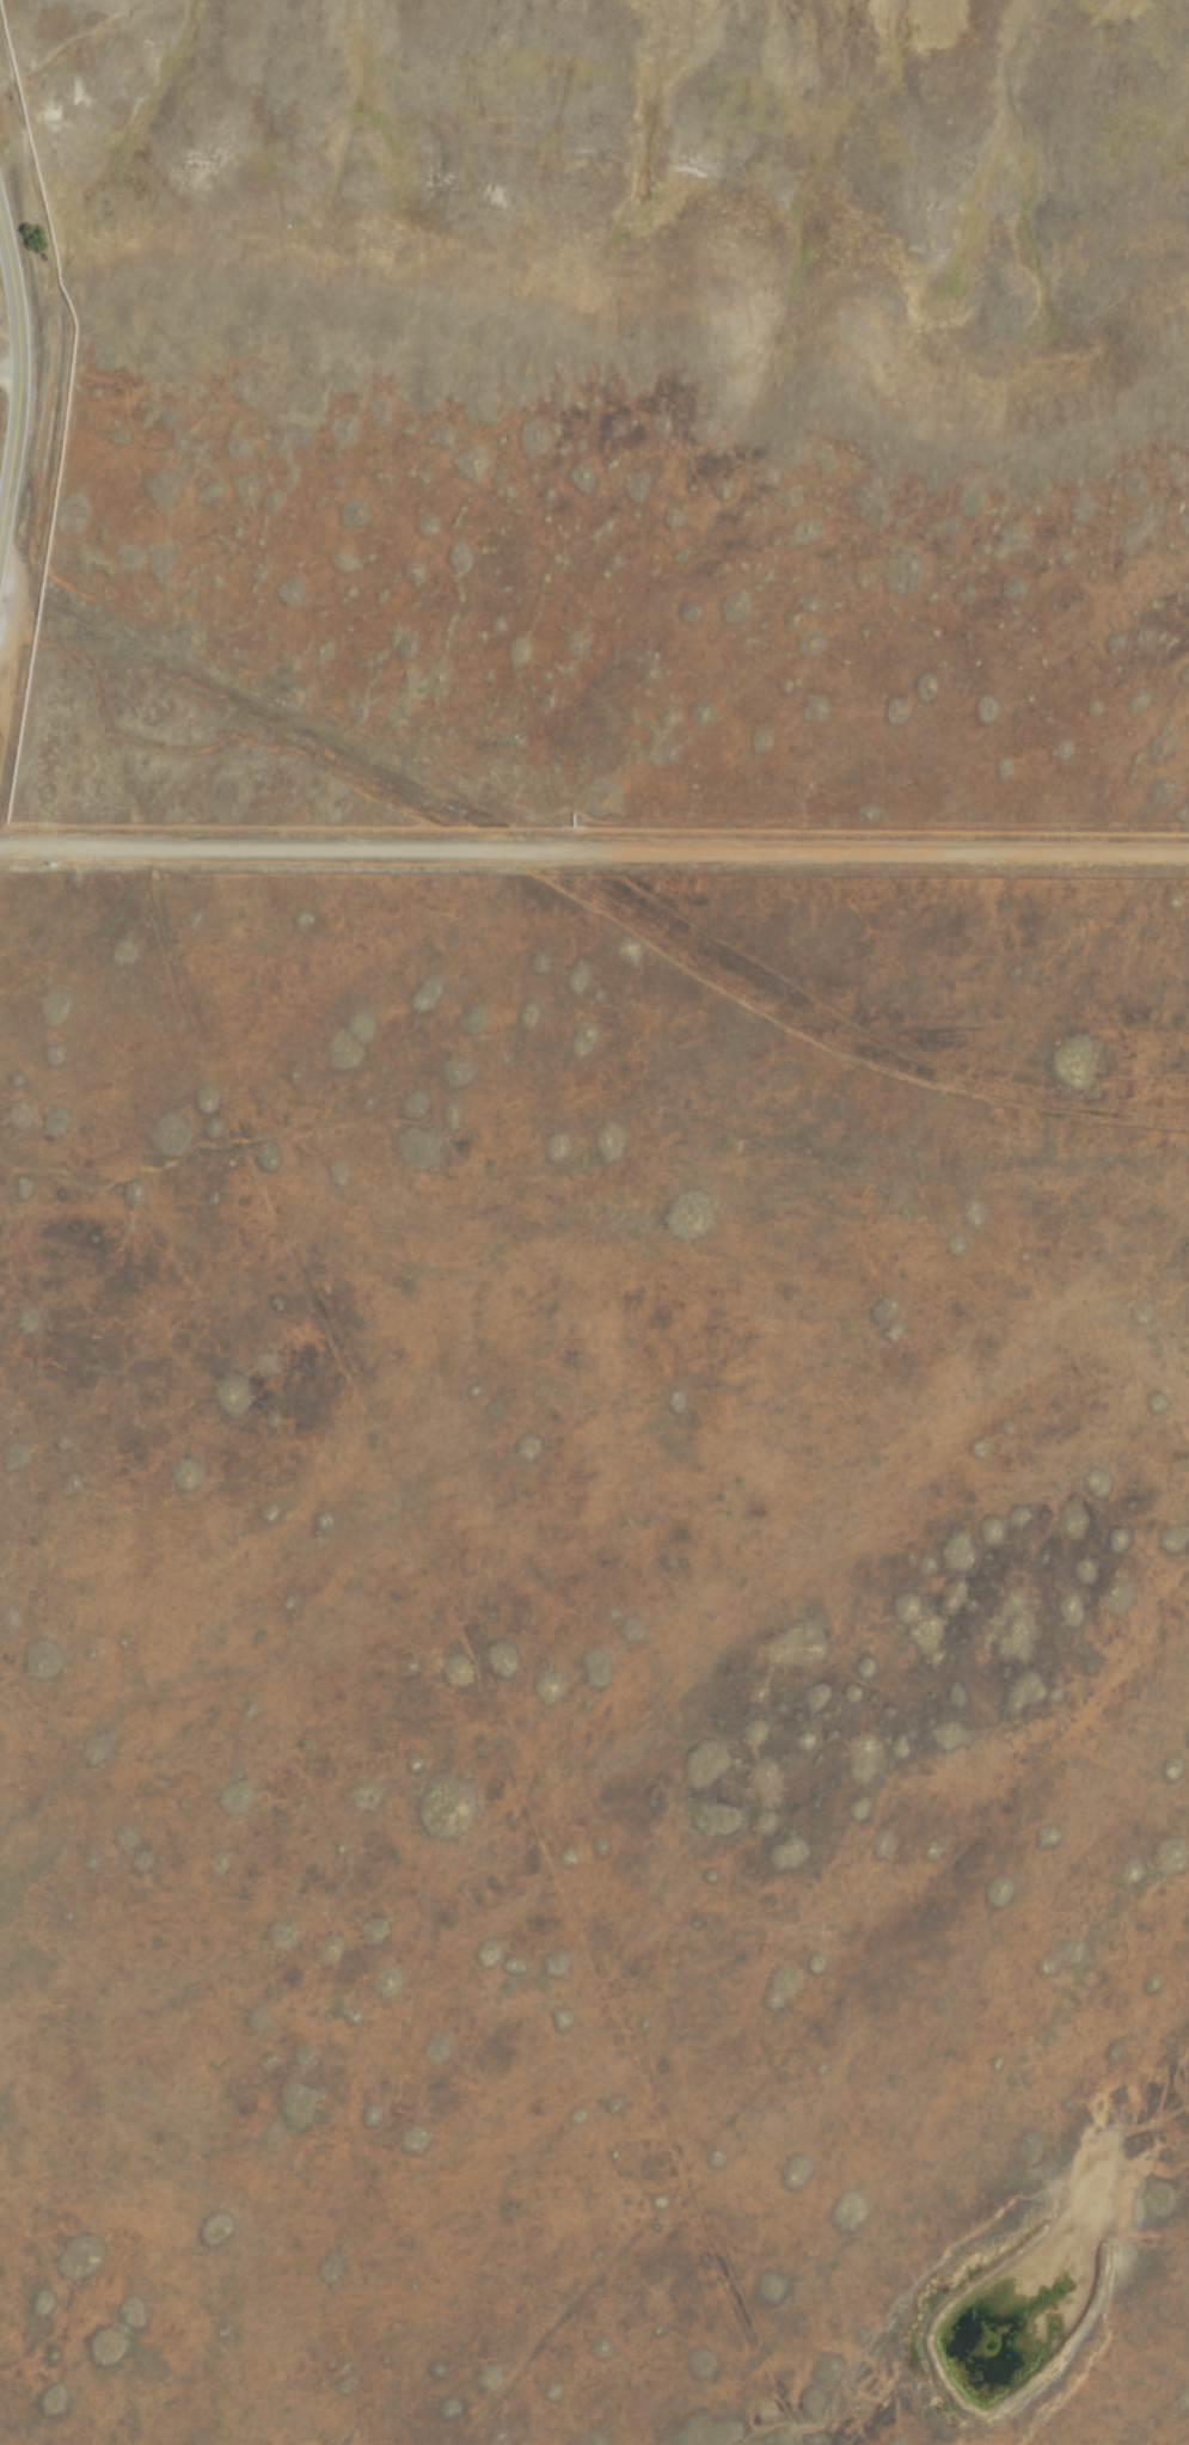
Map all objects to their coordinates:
road: (17, 388)
road: (594, 850)

